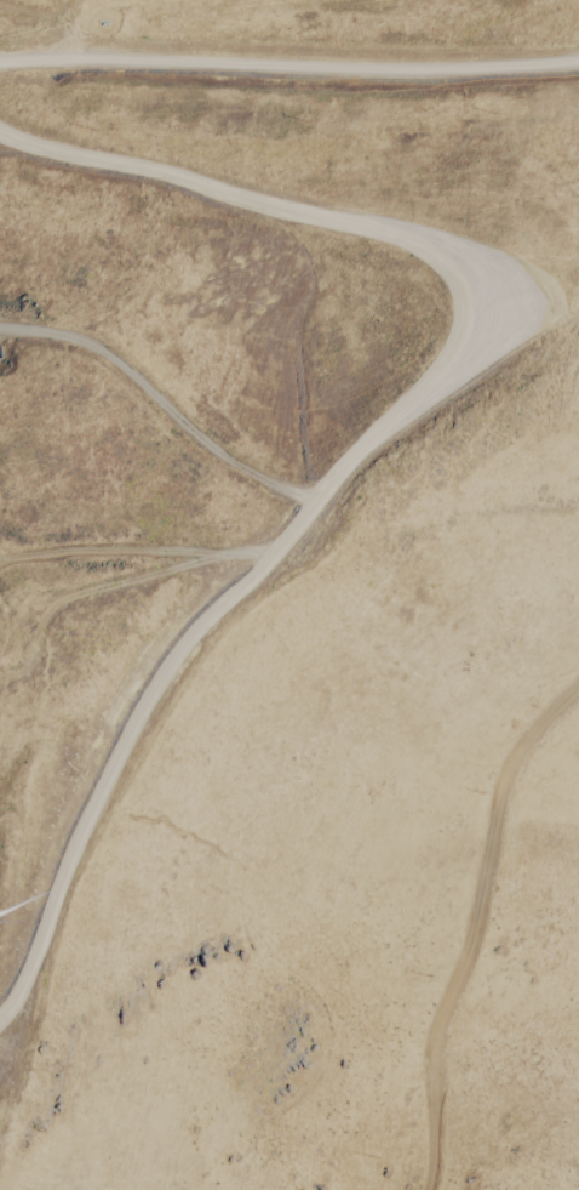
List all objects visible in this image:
road: (44, 30)
road: (332, 56)
road: (41, 78)
crop: (233, 155)
road: (231, 596)

